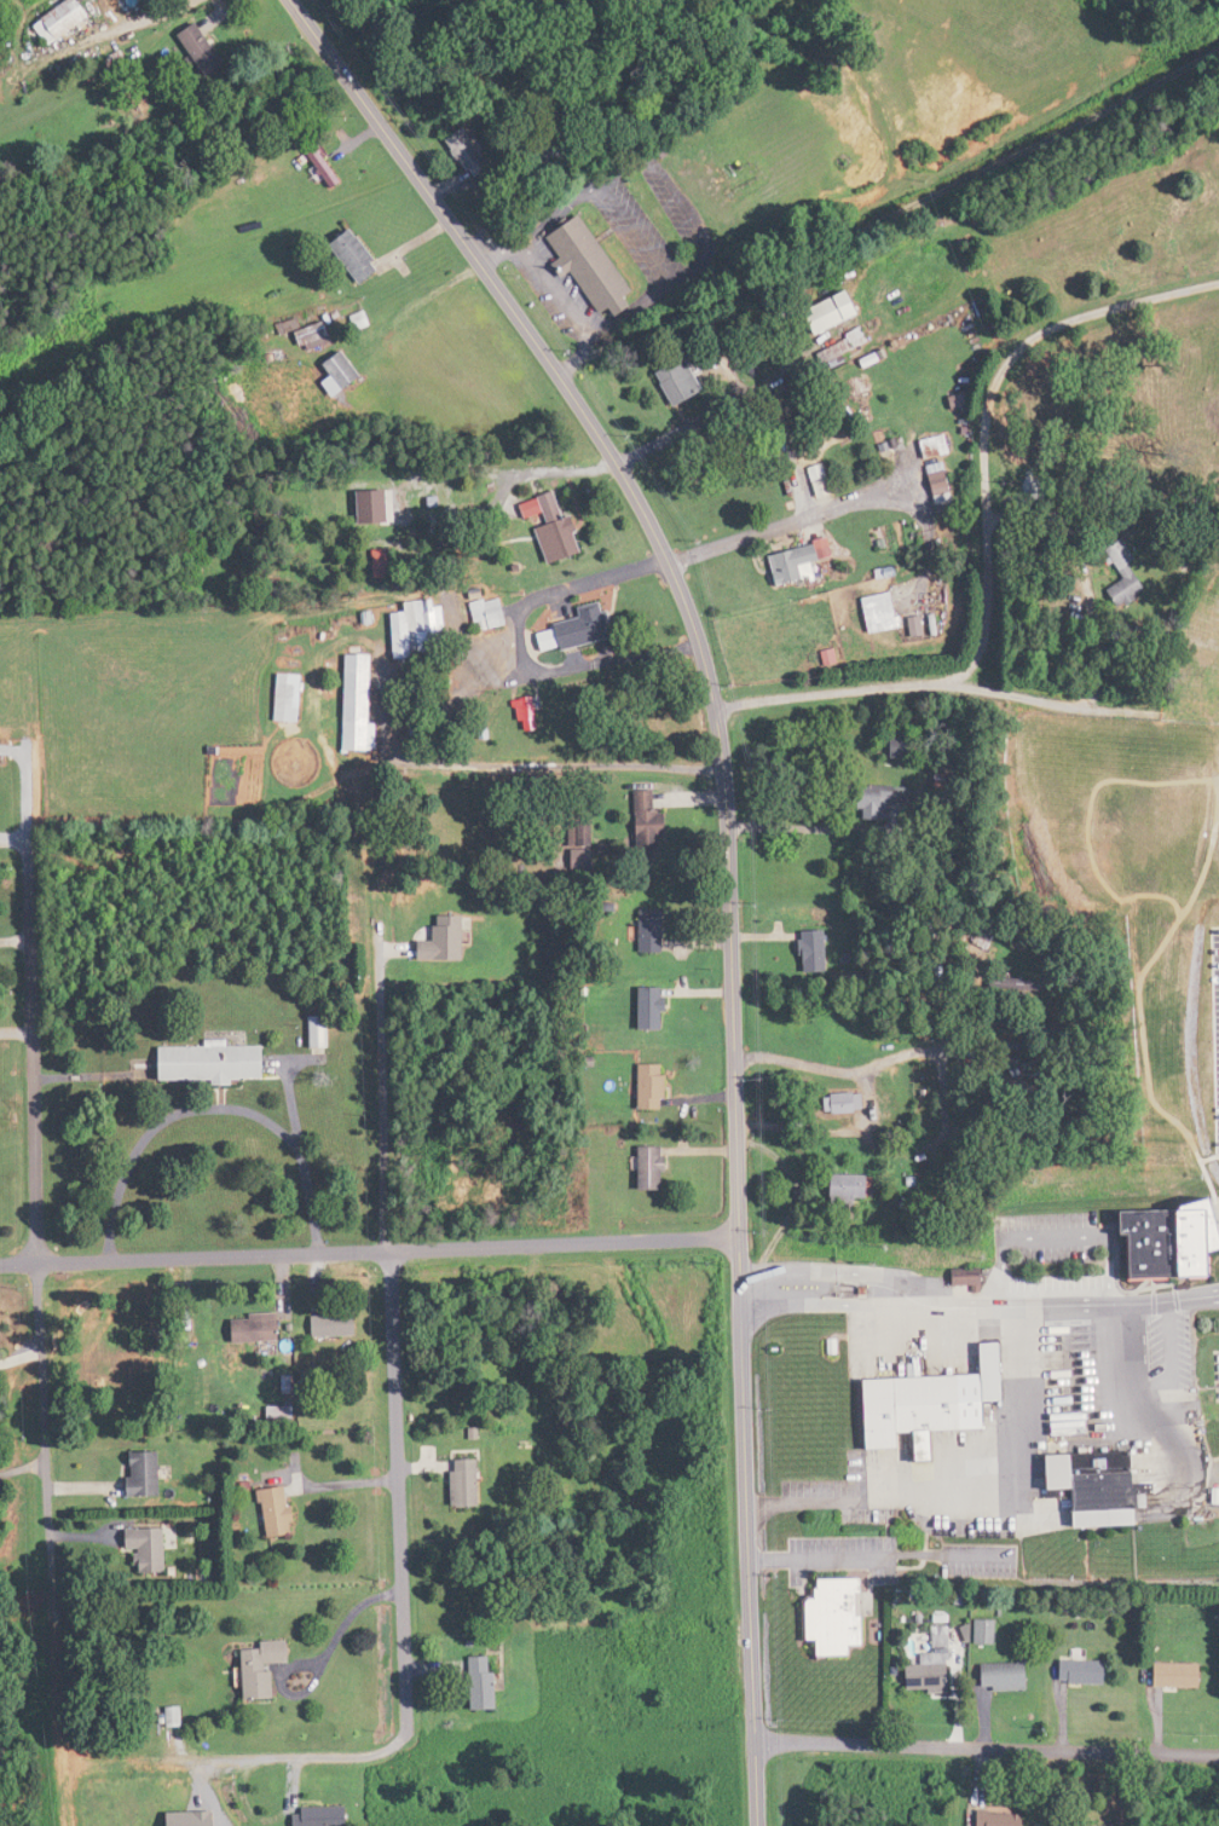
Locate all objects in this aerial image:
building: (395, 13)
building: (67, 21)
road: (140, 23)
building: (209, 52)
building: (469, 149)
building: (561, 152)
building: (323, 166)
building: (359, 258)
building: (595, 268)
building: (837, 312)
building: (847, 347)
building: (347, 371)
building: (682, 386)
road: (986, 410)
building: (929, 469)
building: (368, 505)
road: (791, 522)
building: (786, 560)
building: (1113, 573)
building: (871, 613)
building: (491, 614)
building: (423, 630)
building: (578, 632)
road: (818, 690)
building: (293, 697)
building: (363, 701)
road: (1069, 710)
building: (528, 713)
road: (1208, 717)
building: (426, 733)
building: (880, 747)
road: (551, 765)
building: (859, 802)
road: (726, 809)
building: (648, 817)
road: (801, 826)
building: (445, 940)
building: (807, 950)
building: (654, 1007)
building: (320, 1030)
building: (215, 1062)
road: (831, 1068)
building: (654, 1087)
building: (850, 1103)
road: (215, 1114)
road: (1038, 1143)
building: (651, 1168)
building: (856, 1186)
building: (1175, 1242)
road: (369, 1249)
road: (785, 1272)
road: (906, 1290)
road: (802, 1304)
building: (339, 1325)
road: (393, 1325)
building: (261, 1328)
road: (42, 1346)
road: (1015, 1352)
building: (936, 1404)
building: (288, 1412)
building: (151, 1473)
building: (470, 1483)
building: (1105, 1489)
road: (868, 1499)
building: (288, 1510)
building: (155, 1548)
building: (840, 1616)
building: (987, 1633)
building: (693, 1664)
building: (936, 1665)
building: (272, 1668)
building: (1086, 1672)
building: (1174, 1674)
building: (1007, 1676)
building: (491, 1682)
road: (987, 1745)
road: (300, 1756)
road: (755, 1785)
building: (328, 1816)
building: (1005, 1820)

